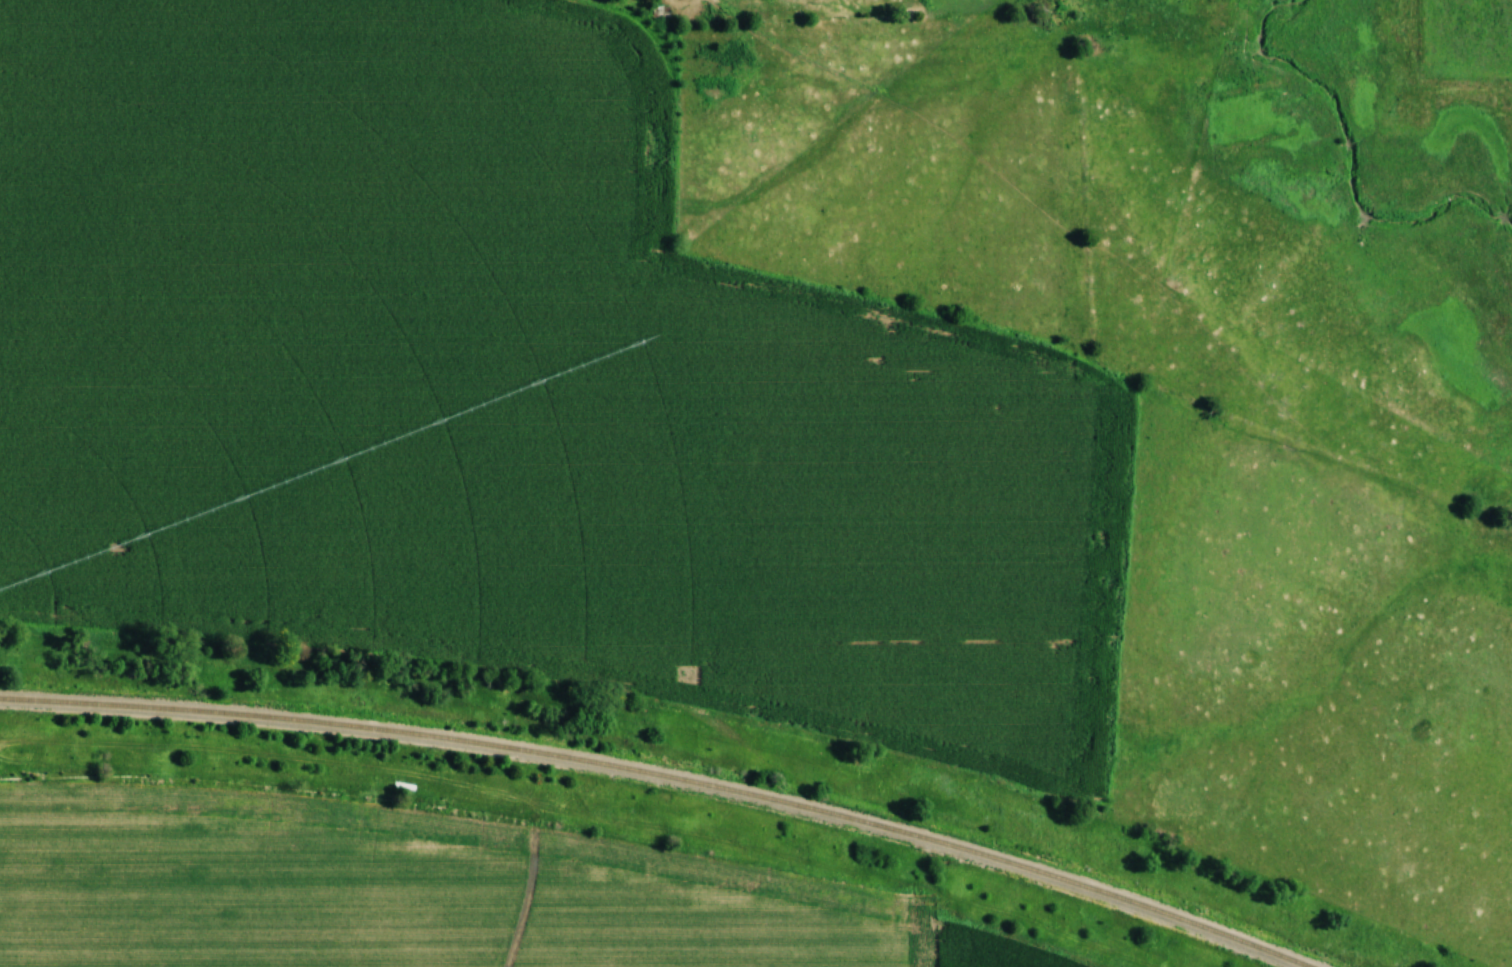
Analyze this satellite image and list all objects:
railway: (667, 776)

